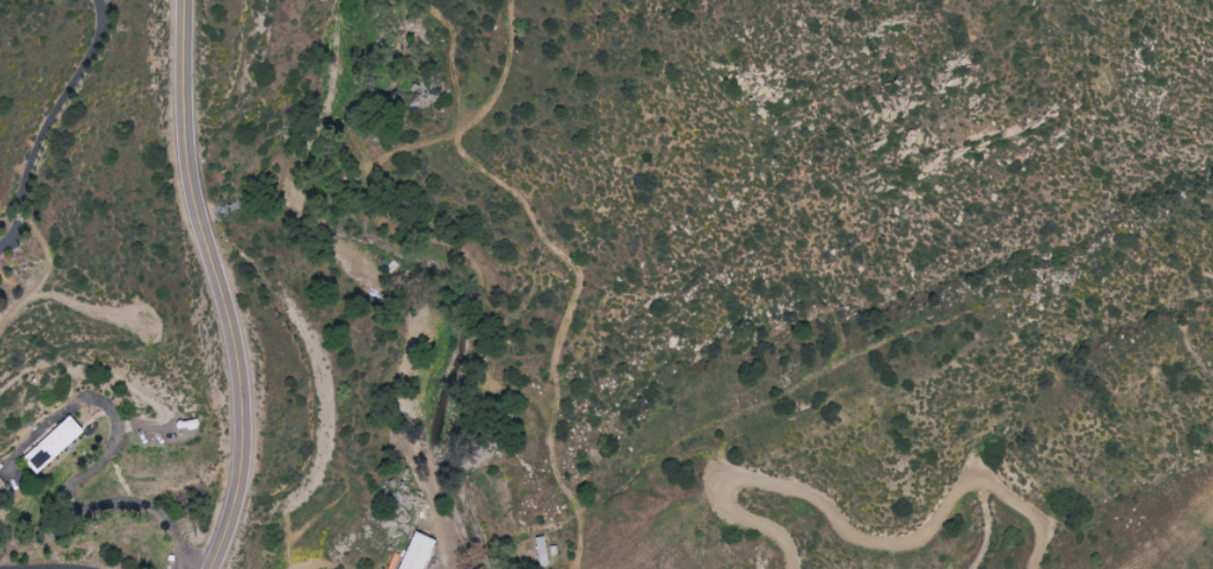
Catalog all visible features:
road: (50, 122)
road: (219, 287)
building: (57, 446)
road: (71, 490)
building: (421, 552)

